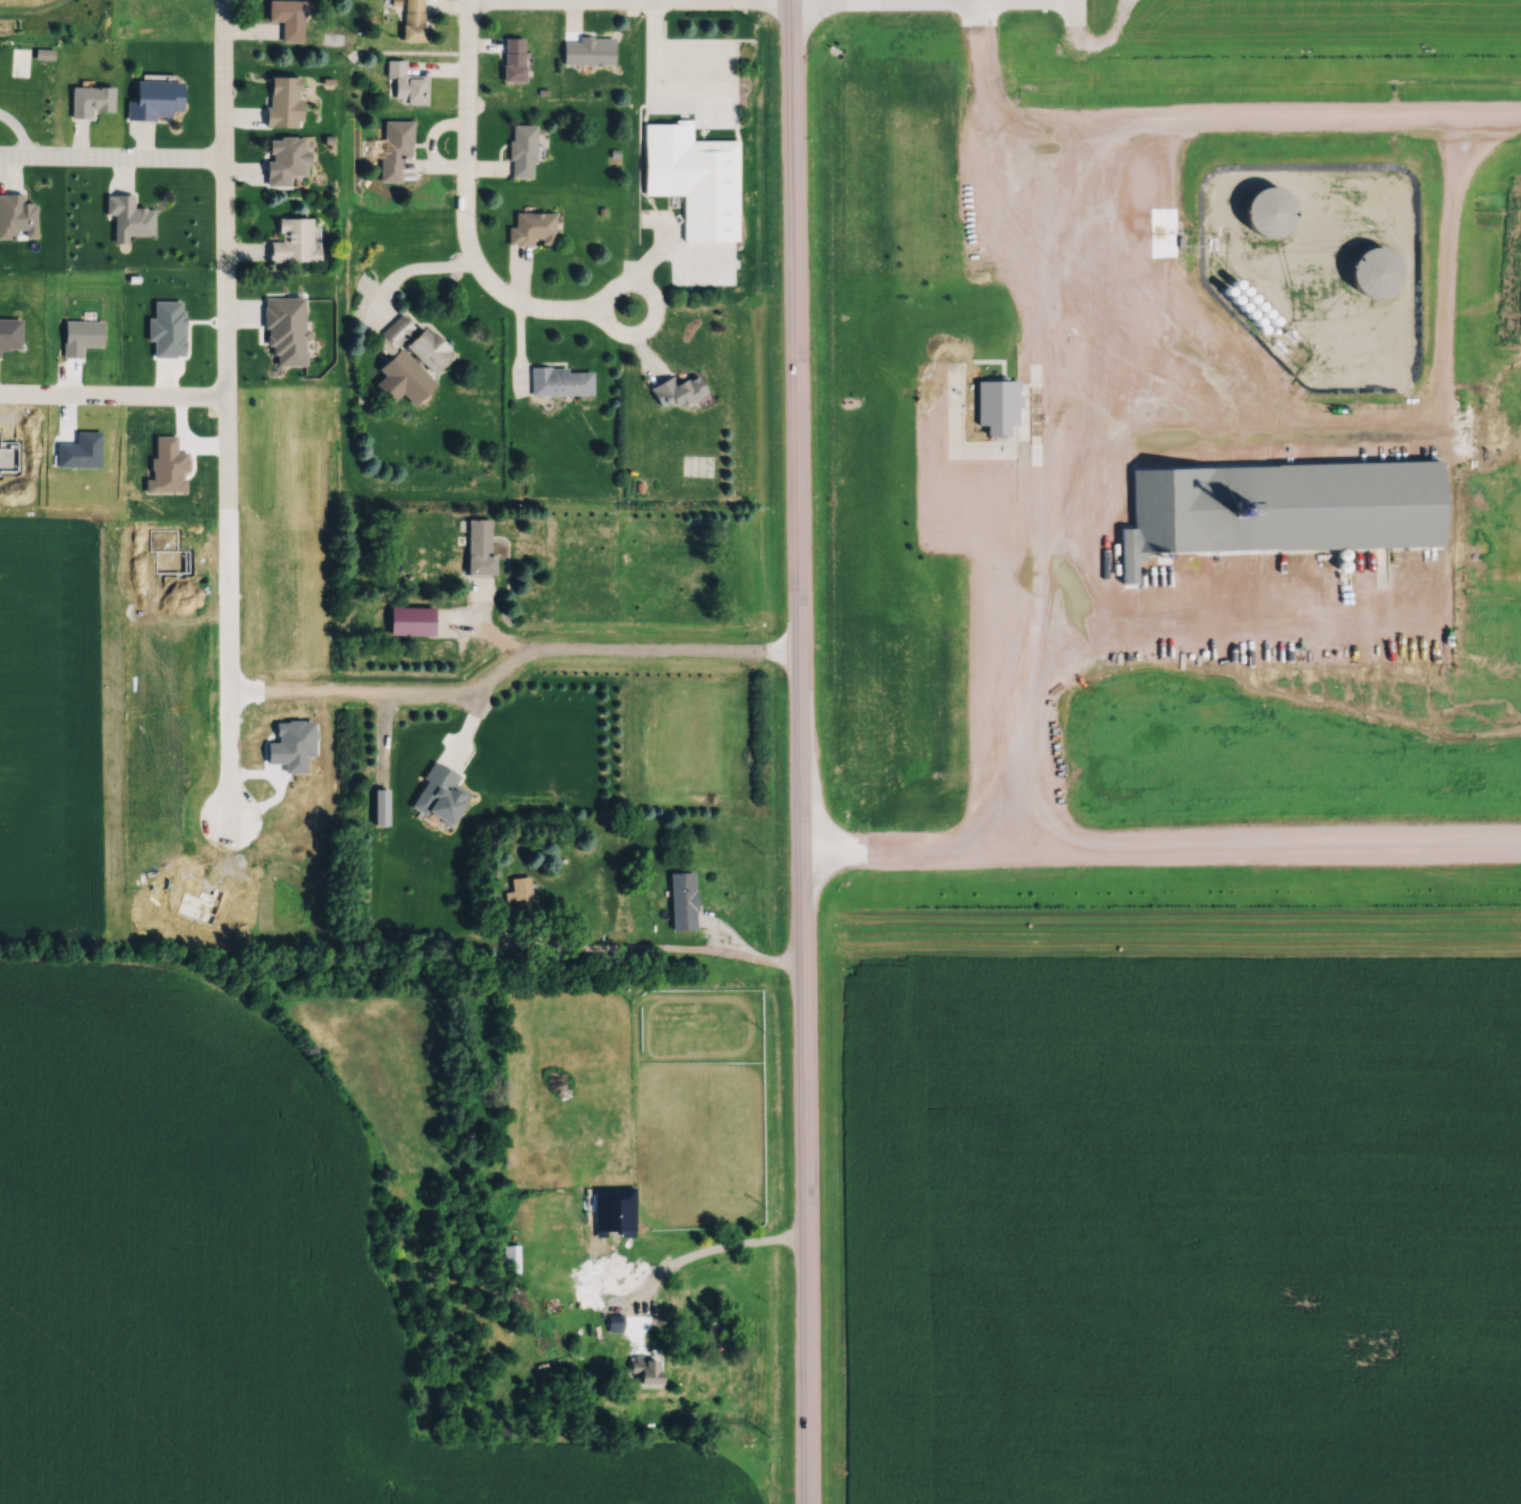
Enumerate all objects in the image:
street lamp: (743, 9)
street lamp: (486, 12)
building: (286, 17)
road: (1081, 17)
building: (411, 19)
building: (585, 48)
street lamp: (208, 49)
road: (671, 52)
building: (510, 57)
building: (404, 81)
building: (87, 98)
road: (1261, 114)
street lamp: (206, 136)
street lamp: (9, 138)
building: (393, 145)
building: (519, 149)
road: (114, 151)
building: (694, 182)
road: (465, 204)
street lamp: (477, 214)
building: (529, 227)
building: (290, 239)
road: (673, 249)
road: (230, 258)
road: (420, 270)
street lamp: (607, 273)
road: (629, 330)
building: (414, 343)
building: (559, 380)
building: (672, 389)
road: (116, 394)
road: (1046, 507)
building: (476, 545)
building: (409, 618)
road: (458, 618)
road: (614, 646)
road: (800, 751)
building: (519, 893)
building: (680, 898)
road: (655, 951)
building: (612, 1207)
road: (714, 1245)
building: (613, 1319)
building: (641, 1367)

